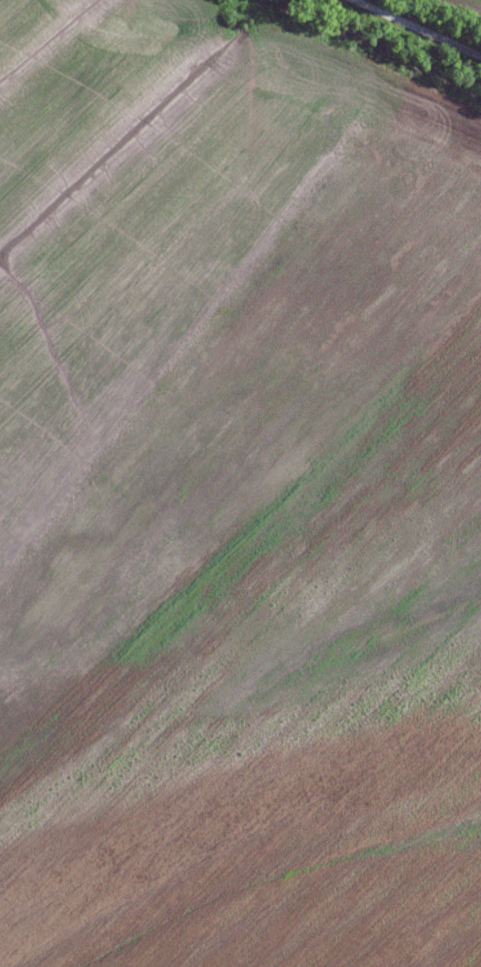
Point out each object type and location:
road: (417, 28)

